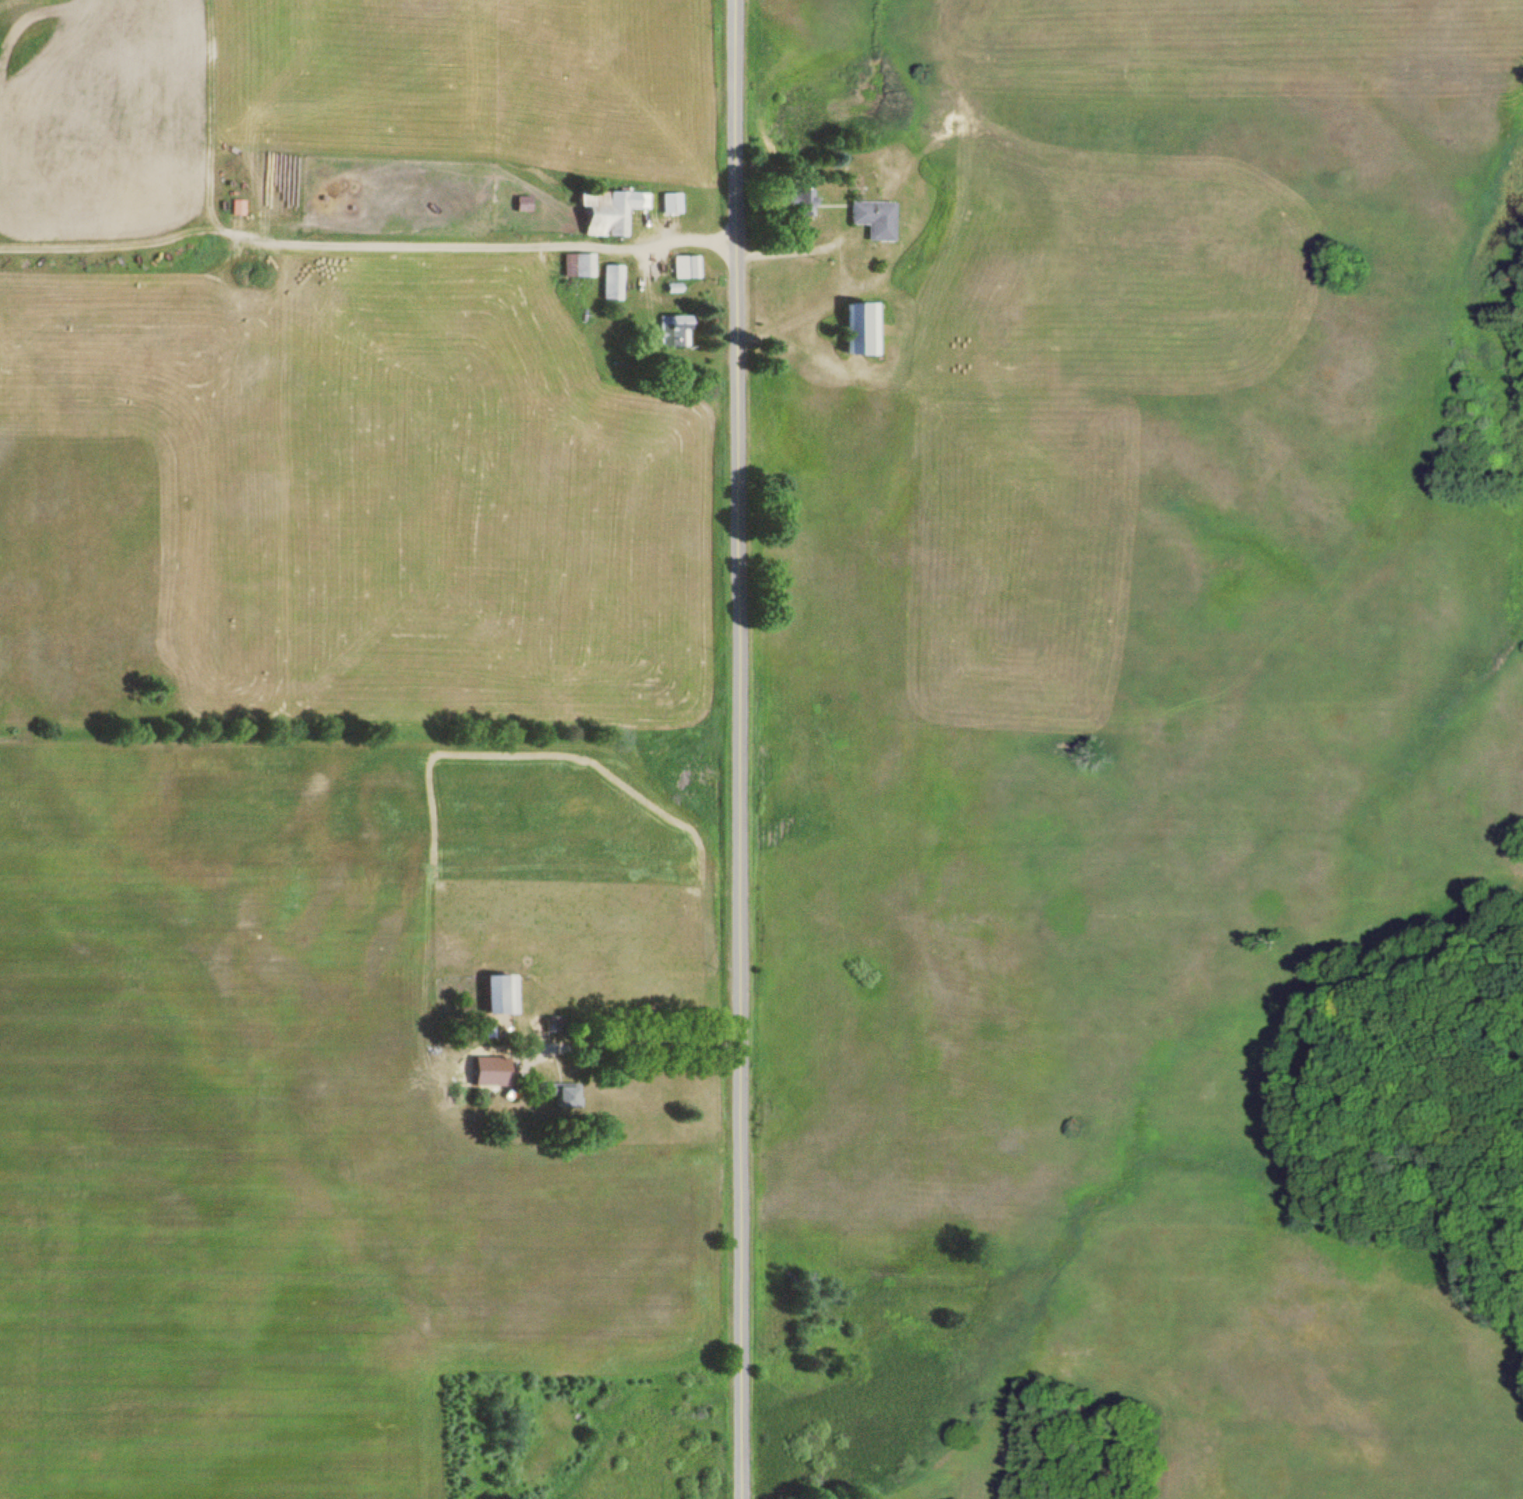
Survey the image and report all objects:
building: (794, 203)
building: (520, 204)
building: (668, 204)
building: (235, 208)
building: (604, 212)
building: (870, 219)
building: (574, 266)
building: (683, 268)
building: (609, 283)
building: (669, 331)
building: (854, 331)
road: (735, 749)
building: (493, 994)

